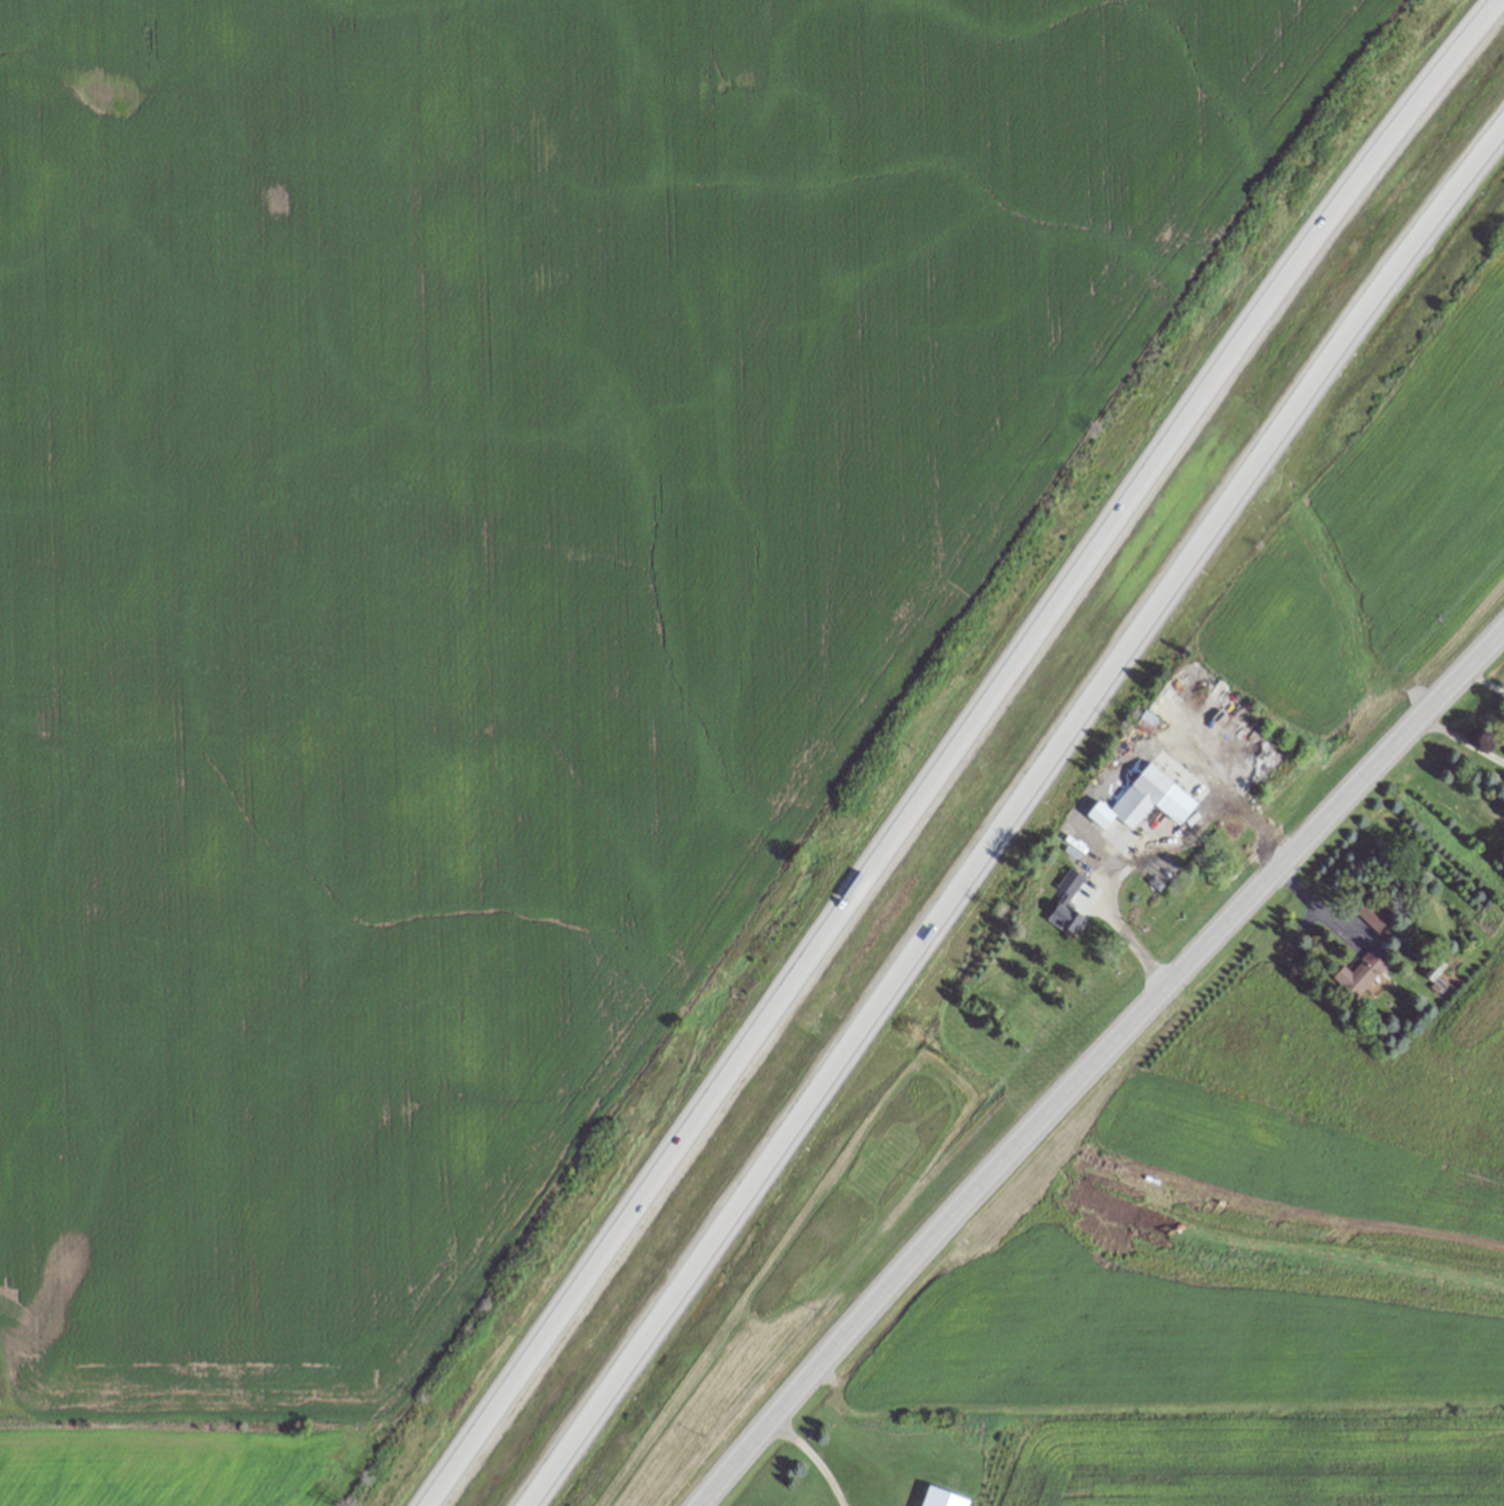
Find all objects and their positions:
crop: (484, 599)
road: (1487, 685)
building: (1147, 722)
road: (1463, 744)
road: (938, 748)
building: (1146, 801)
road: (1026, 831)
road: (1145, 852)
building: (1067, 903)
road: (1320, 907)
building: (1369, 913)
building: (1359, 975)
road: (1090, 1061)
road: (191, 1399)
road: (814, 1459)
building: (941, 1498)

